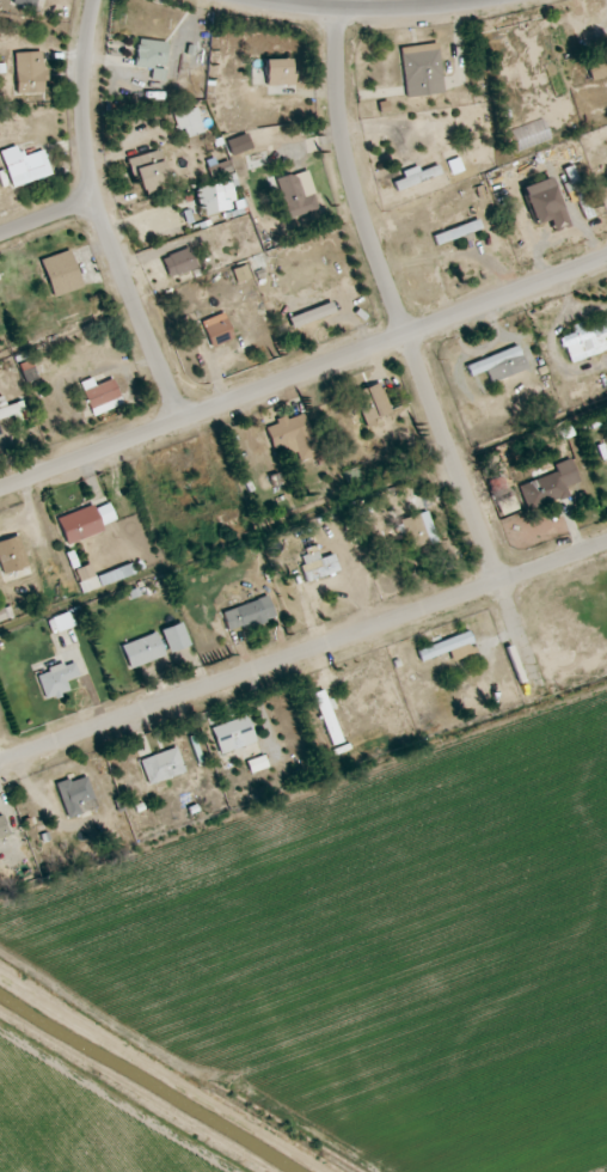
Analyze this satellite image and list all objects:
building: (25, 2)
road: (370, 8)
building: (151, 57)
building: (596, 66)
building: (421, 69)
building: (29, 72)
building: (277, 72)
building: (194, 86)
building: (188, 121)
building: (24, 166)
building: (219, 169)
building: (147, 170)
building: (417, 176)
building: (294, 196)
building: (215, 199)
building: (542, 203)
road: (102, 215)
road: (48, 218)
building: (456, 232)
building: (178, 262)
building: (61, 273)
building: (240, 274)
building: (311, 315)
building: (216, 329)
building: (585, 340)
road: (413, 354)
building: (498, 364)
road: (302, 372)
building: (100, 395)
building: (369, 403)
building: (7, 410)
building: (292, 437)
building: (352, 476)
building: (548, 486)
building: (84, 523)
building: (411, 531)
building: (11, 555)
building: (318, 568)
building: (115, 574)
building: (247, 614)
building: (174, 637)
building: (448, 647)
building: (142, 649)
road: (303, 653)
building: (56, 679)
building: (326, 718)
building: (232, 734)
building: (161, 765)
building: (75, 795)
building: (2, 828)

